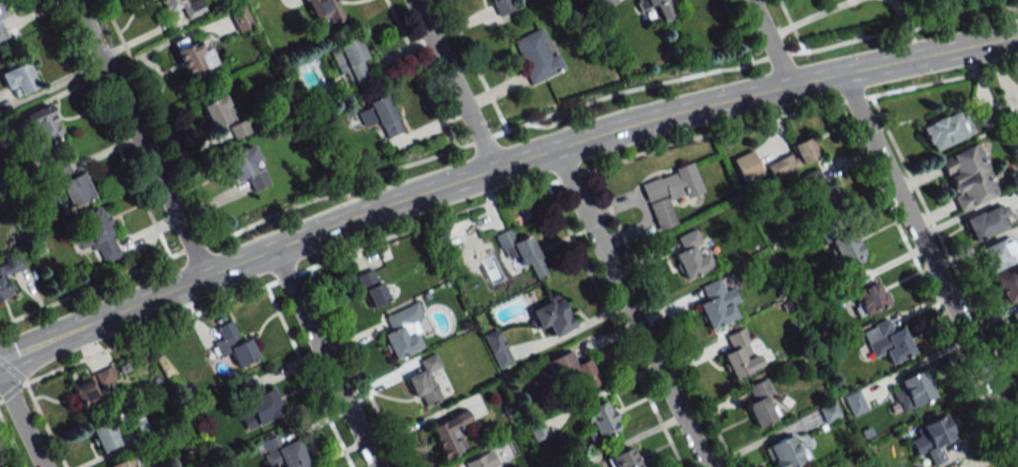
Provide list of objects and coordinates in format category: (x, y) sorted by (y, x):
building: (823, 0)
building: (606, 3)
building: (504, 5)
building: (184, 6)
building: (660, 9)
building: (324, 12)
building: (1, 13)
building: (240, 19)
building: (1, 33)
road: (770, 41)
building: (537, 55)
building: (192, 56)
building: (350, 62)
building: (18, 79)
road: (453, 83)
road: (686, 106)
building: (217, 111)
building: (379, 116)
building: (1014, 122)
building: (41, 124)
building: (239, 129)
building: (946, 130)
road: (138, 136)
building: (794, 158)
building: (746, 166)
building: (247, 168)
building: (968, 176)
building: (70, 186)
building: (1016, 188)
building: (821, 189)
building: (668, 193)
road: (498, 199)
building: (987, 221)
building: (95, 235)
building: (842, 244)
road: (944, 250)
building: (518, 251)
building: (998, 254)
building: (691, 255)
road: (929, 256)
road: (181, 282)
building: (1008, 283)
building: (3, 285)
road: (925, 285)
building: (371, 287)
building: (865, 295)
building: (716, 303)
road: (629, 306)
building: (550, 316)
building: (1015, 318)
building: (402, 331)
building: (892, 341)
building: (233, 345)
building: (497, 348)
building: (739, 354)
road: (324, 356)
building: (572, 372)
building: (104, 376)
building: (425, 382)
building: (913, 390)
building: (84, 394)
building: (854, 402)
building: (760, 403)
building: (264, 405)
building: (600, 420)
road: (21, 423)
building: (449, 435)
building: (104, 436)
building: (932, 439)
building: (283, 452)
building: (785, 453)
building: (621, 459)
building: (482, 461)
building: (125, 462)

